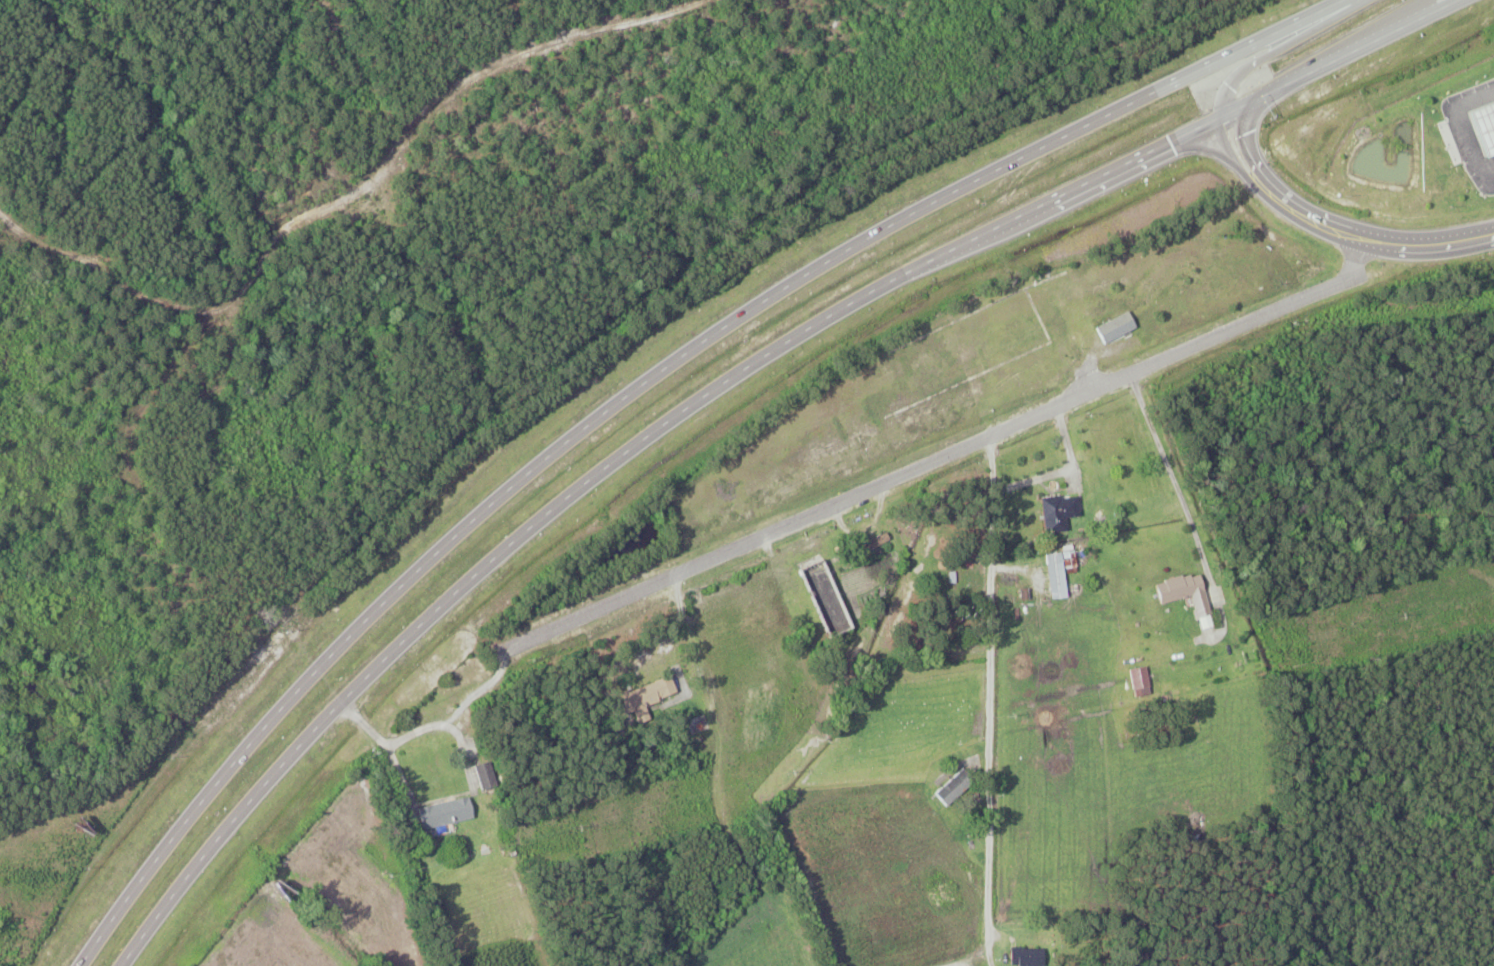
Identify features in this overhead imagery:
road: (1277, 48)
traffic signals: (1219, 115)
building: (1440, 116)
road: (1456, 126)
building: (1360, 154)
building: (1422, 160)
building: (1461, 185)
road: (1318, 223)
road: (1480, 236)
building: (1114, 328)
road: (631, 386)
road: (712, 390)
road: (941, 455)
road: (1171, 482)
building: (1058, 512)
building: (875, 543)
building: (1183, 592)
building: (825, 599)
building: (1139, 678)
building: (639, 696)
road: (993, 697)
road: (448, 726)
road: (387, 741)
building: (950, 790)
building: (444, 815)
building: (1024, 957)

